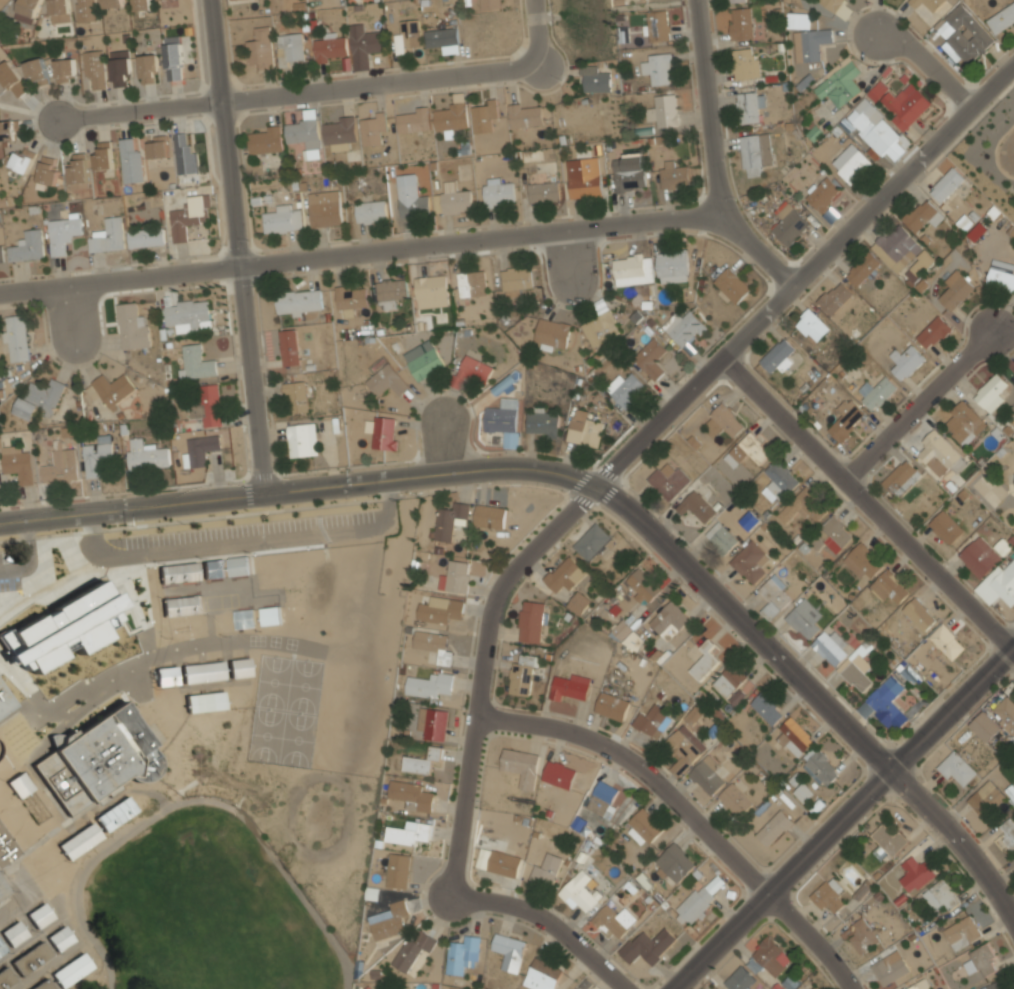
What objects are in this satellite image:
building: (232, 0)
building: (652, 0)
building: (734, 1)
building: (915, 2)
building: (113, 3)
building: (491, 3)
building: (934, 4)
building: (142, 5)
building: (836, 6)
building: (29, 7)
building: (60, 11)
building: (86, 11)
building: (1002, 18)
building: (798, 19)
building: (741, 23)
building: (657, 24)
road: (535, 31)
building: (407, 34)
building: (965, 34)
building: (443, 39)
building: (810, 43)
building: (364, 45)
building: (330, 47)
building: (289, 48)
building: (260, 49)
building: (173, 58)
road: (928, 62)
building: (745, 63)
building: (148, 68)
building: (657, 68)
building: (95, 69)
building: (64, 70)
building: (36, 71)
building: (121, 72)
building: (11, 79)
building: (594, 79)
road: (381, 81)
building: (839, 84)
building: (900, 104)
building: (750, 106)
road: (18, 108)
road: (142, 110)
building: (663, 110)
building: (484, 114)
building: (525, 114)
building: (451, 115)
building: (413, 120)
building: (372, 129)
building: (874, 130)
building: (7, 131)
building: (339, 132)
building: (303, 136)
building: (264, 141)
building: (158, 147)
building: (755, 152)
road: (713, 153)
building: (184, 155)
building: (103, 156)
building: (23, 160)
building: (131, 162)
building: (849, 164)
building: (47, 171)
building: (78, 172)
building: (629, 172)
building: (673, 174)
building: (584, 177)
building: (947, 185)
building: (498, 192)
building: (544, 192)
building: (823, 193)
building: (455, 199)
building: (412, 201)
building: (324, 208)
building: (371, 211)
building: (188, 216)
building: (923, 216)
building: (283, 219)
building: (789, 223)
building: (977, 232)
building: (63, 233)
building: (109, 237)
building: (146, 237)
building: (896, 246)
building: (28, 247)
road: (234, 247)
road: (359, 247)
building: (2, 254)
building: (921, 264)
building: (672, 266)
building: (629, 267)
building: (862, 268)
building: (1001, 278)
building: (516, 280)
building: (471, 283)
building: (732, 284)
building: (956, 289)
building: (430, 291)
building: (390, 292)
building: (350, 296)
building: (835, 297)
building: (299, 302)
building: (187, 312)
building: (132, 325)
building: (811, 325)
building: (683, 327)
building: (601, 328)
building: (934, 331)
building: (552, 334)
building: (15, 337)
building: (289, 347)
building: (777, 356)
building: (650, 357)
building: (423, 360)
building: (195, 362)
building: (907, 362)
building: (474, 371)
building: (1013, 373)
building: (1013, 374)
building: (386, 380)
building: (625, 388)
building: (112, 389)
building: (992, 392)
building: (876, 393)
building: (295, 396)
building: (38, 398)
road: (918, 399)
building: (208, 406)
building: (501, 417)
building: (847, 418)
building: (722, 421)
building: (966, 421)
building: (542, 423)
building: (585, 428)
road: (648, 430)
building: (384, 432)
building: (302, 439)
building: (199, 449)
road: (440, 449)
building: (747, 450)
building: (939, 453)
building: (96, 455)
building: (146, 455)
building: (16, 463)
building: (60, 467)
road: (499, 469)
road: (260, 474)
road: (607, 474)
building: (902, 477)
road: (579, 480)
building: (669, 481)
building: (778, 481)
road: (247, 492)
road: (608, 494)
road: (870, 499)
road: (581, 500)
building: (811, 504)
building: (696, 506)
building: (490, 516)
road: (583, 518)
road: (318, 521)
building: (451, 521)
road: (583, 521)
building: (946, 527)
road: (323, 533)
building: (834, 533)
road: (630, 534)
building: (722, 537)
building: (592, 542)
road: (241, 543)
building: (978, 555)
road: (29, 556)
building: (861, 561)
building: (749, 562)
building: (239, 566)
building: (214, 568)
building: (179, 572)
building: (565, 575)
building: (455, 577)
road: (675, 580)
building: (998, 584)
building: (641, 585)
building: (888, 587)
road: (663, 592)
building: (774, 595)
building: (578, 603)
building: (182, 604)
building: (441, 610)
building: (920, 613)
building: (270, 616)
building: (245, 618)
building: (804, 618)
building: (669, 620)
building: (531, 621)
building: (64, 628)
building: (621, 629)
building: (633, 641)
building: (947, 641)
building: (434, 646)
building: (832, 647)
building: (704, 660)
building: (239, 668)
building: (202, 672)
building: (857, 673)
building: (522, 675)
building: (166, 676)
building: (732, 684)
building: (430, 685)
building: (569, 687)
road: (951, 699)
building: (204, 701)
building: (4, 703)
building: (886, 704)
building: (612, 706)
building: (767, 707)
park: (286, 709)
building: (1006, 712)
building: (693, 715)
building: (652, 720)
building: (433, 724)
building: (986, 726)
building: (794, 737)
building: (683, 749)
building: (98, 759)
building: (422, 761)
building: (521, 766)
building: (821, 767)
building: (956, 769)
building: (559, 775)
building: (706, 778)
building: (21, 785)
building: (804, 793)
building: (1010, 793)
building: (412, 795)
building: (985, 797)
building: (603, 798)
building: (735, 799)
road: (197, 801)
road: (693, 811)
building: (116, 813)
building: (645, 825)
building: (775, 827)
road: (954, 832)
building: (409, 833)
building: (887, 840)
building: (81, 841)
building: (6, 848)
building: (498, 861)
building: (674, 862)
building: (399, 871)
building: (546, 871)
building: (914, 873)
road: (785, 878)
building: (3, 889)
building: (578, 893)
building: (829, 894)
building: (940, 895)
building: (702, 897)
park: (205, 908)
park: (211, 910)
building: (39, 915)
building: (390, 921)
road: (548, 922)
building: (614, 922)
building: (14, 932)
building: (962, 932)
building: (863, 936)
building: (60, 938)
building: (647, 946)
building: (2, 948)
building: (413, 949)
building: (510, 951)
building: (463, 955)
building: (768, 957)
building: (31, 958)
building: (982, 960)
building: (890, 967)
building: (72, 970)
building: (542, 975)
building: (6, 977)
building: (740, 979)
building: (43, 985)
building: (920, 985)
building: (998, 985)
building: (370, 987)
building: (814, 988)

